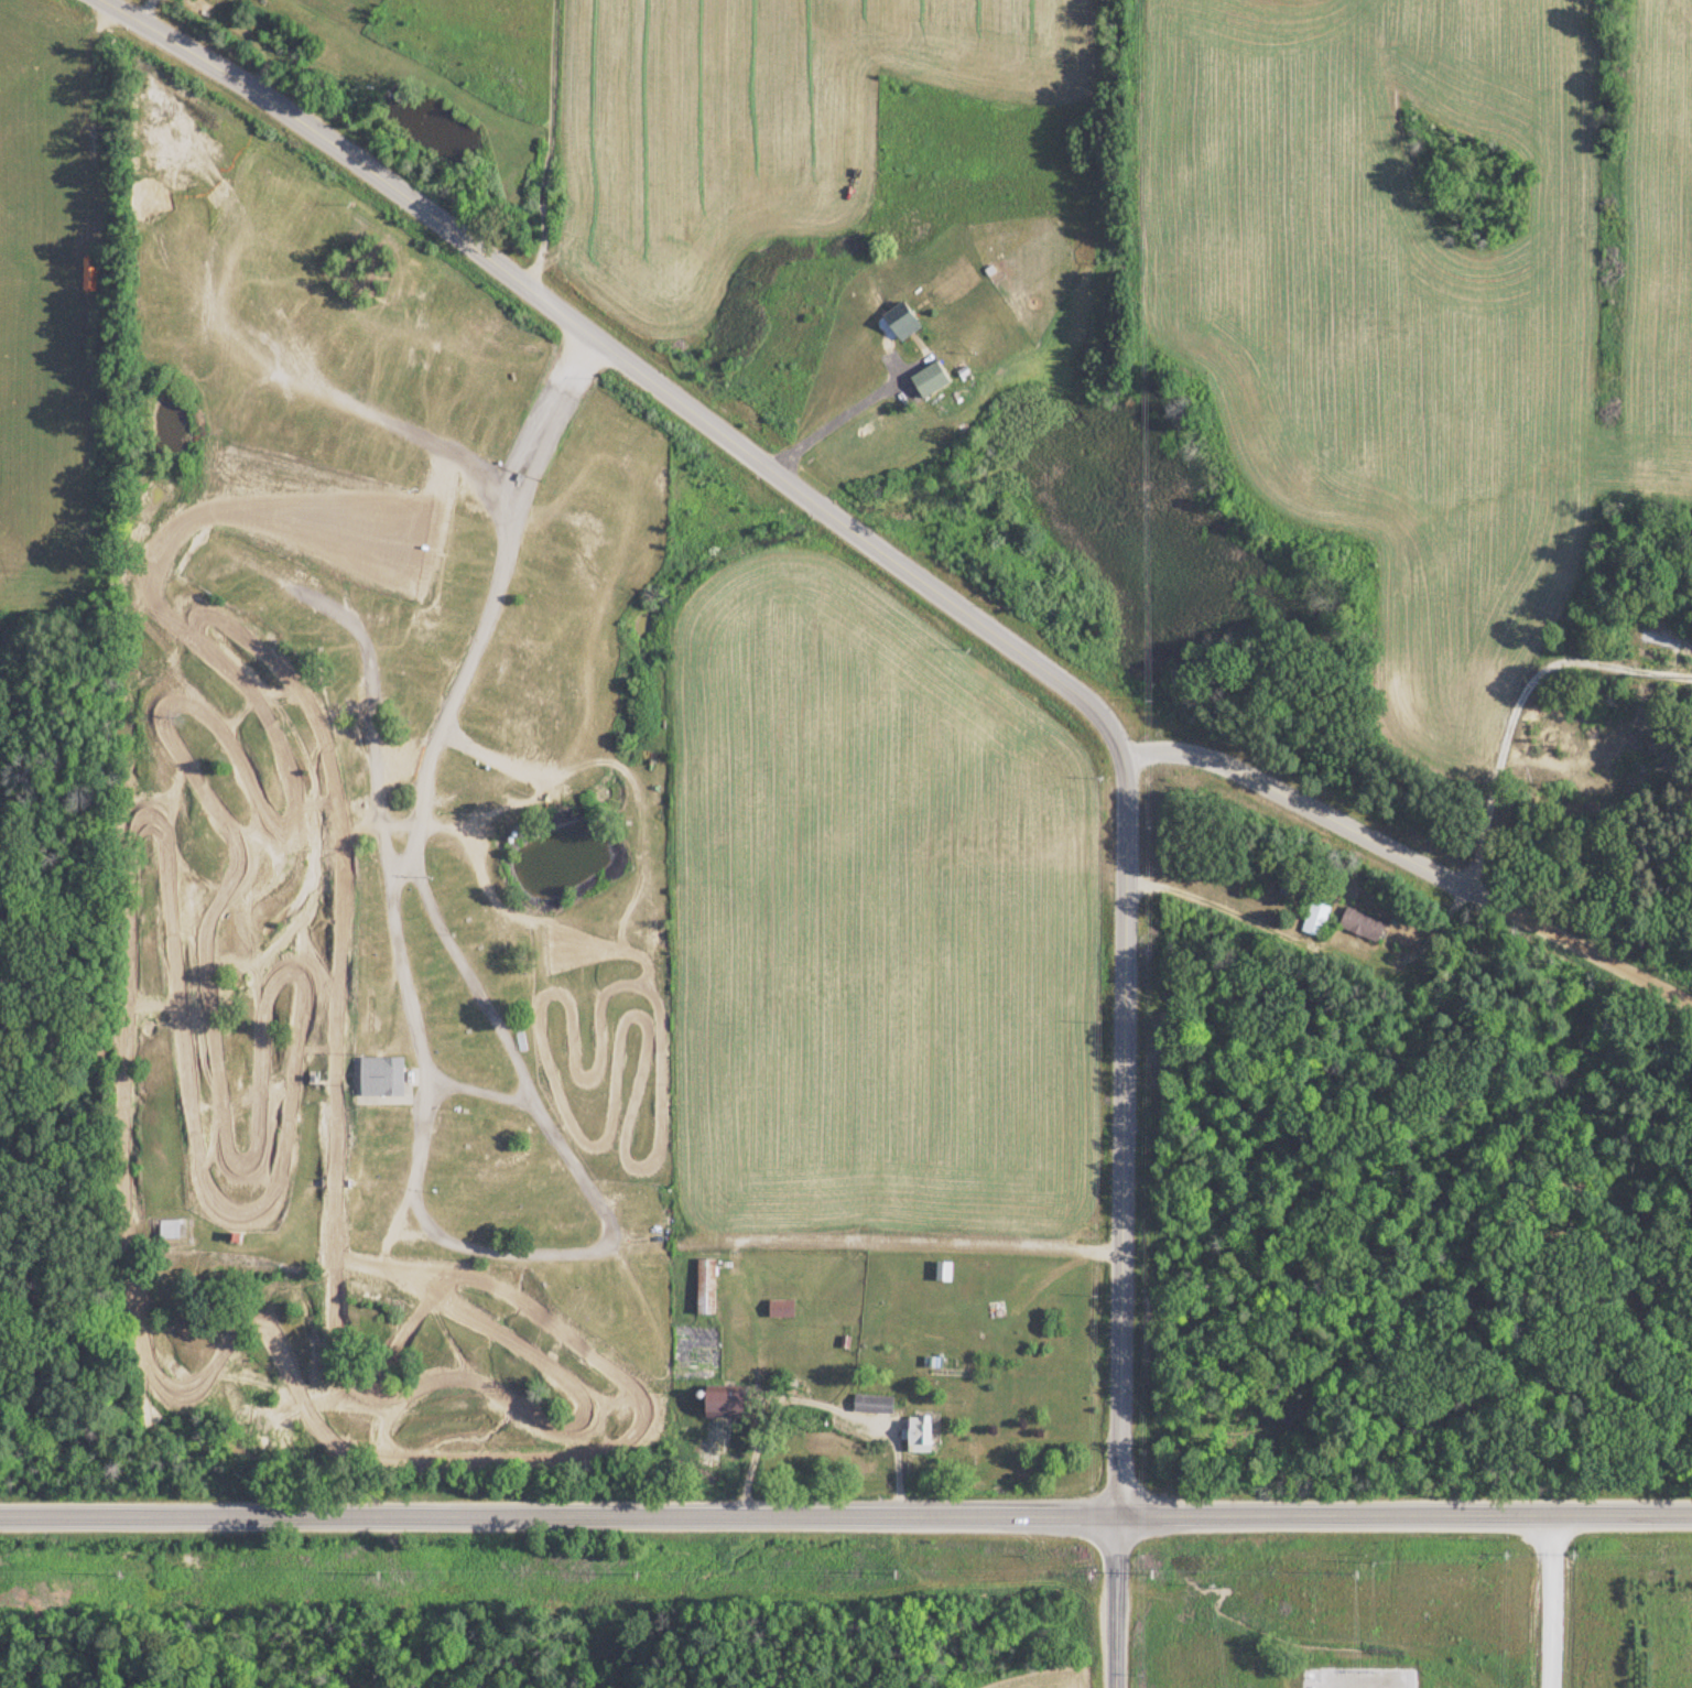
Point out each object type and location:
building: (899, 323)
road: (616, 350)
building: (928, 381)
road: (829, 423)
raceway: (138, 551)
building: (1646, 639)
road: (464, 833)
road: (1406, 853)
building: (1312, 921)
building: (1358, 927)
raceway: (630, 975)
raceway: (124, 1030)
building: (379, 1074)
parking lot: (463, 1074)
building: (311, 1075)
road: (480, 1095)
raceway: (610, 1099)
road: (1119, 1117)
road: (590, 1198)
road: (394, 1223)
building: (166, 1231)
road: (959, 1237)
building: (703, 1287)
building: (778, 1309)
building: (994, 1310)
building: (726, 1402)
building: (869, 1405)
building: (918, 1435)
road: (556, 1516)
road: (1402, 1516)
road: (1113, 1602)
road: (1545, 1602)
power substation: (1356, 1679)

